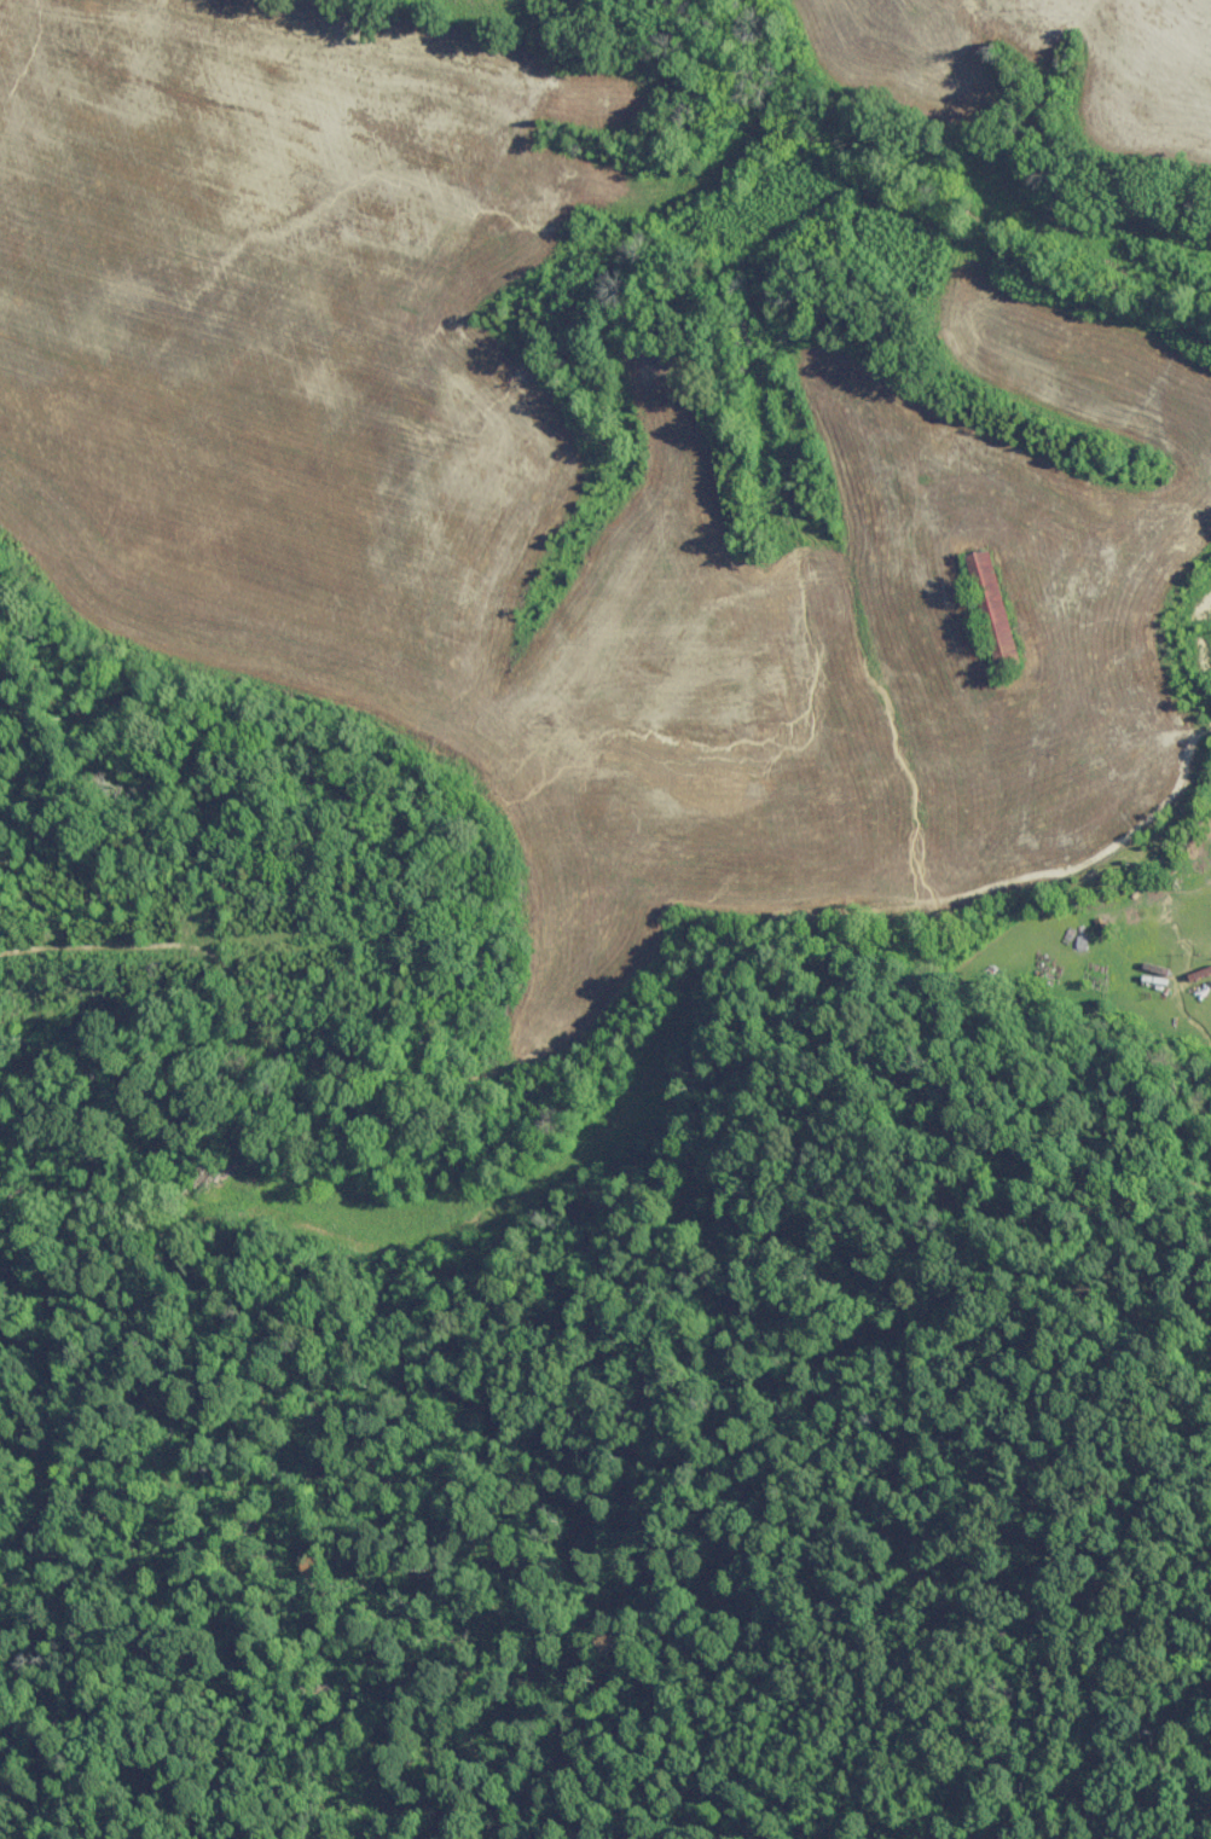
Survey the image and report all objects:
building: (986, 609)

